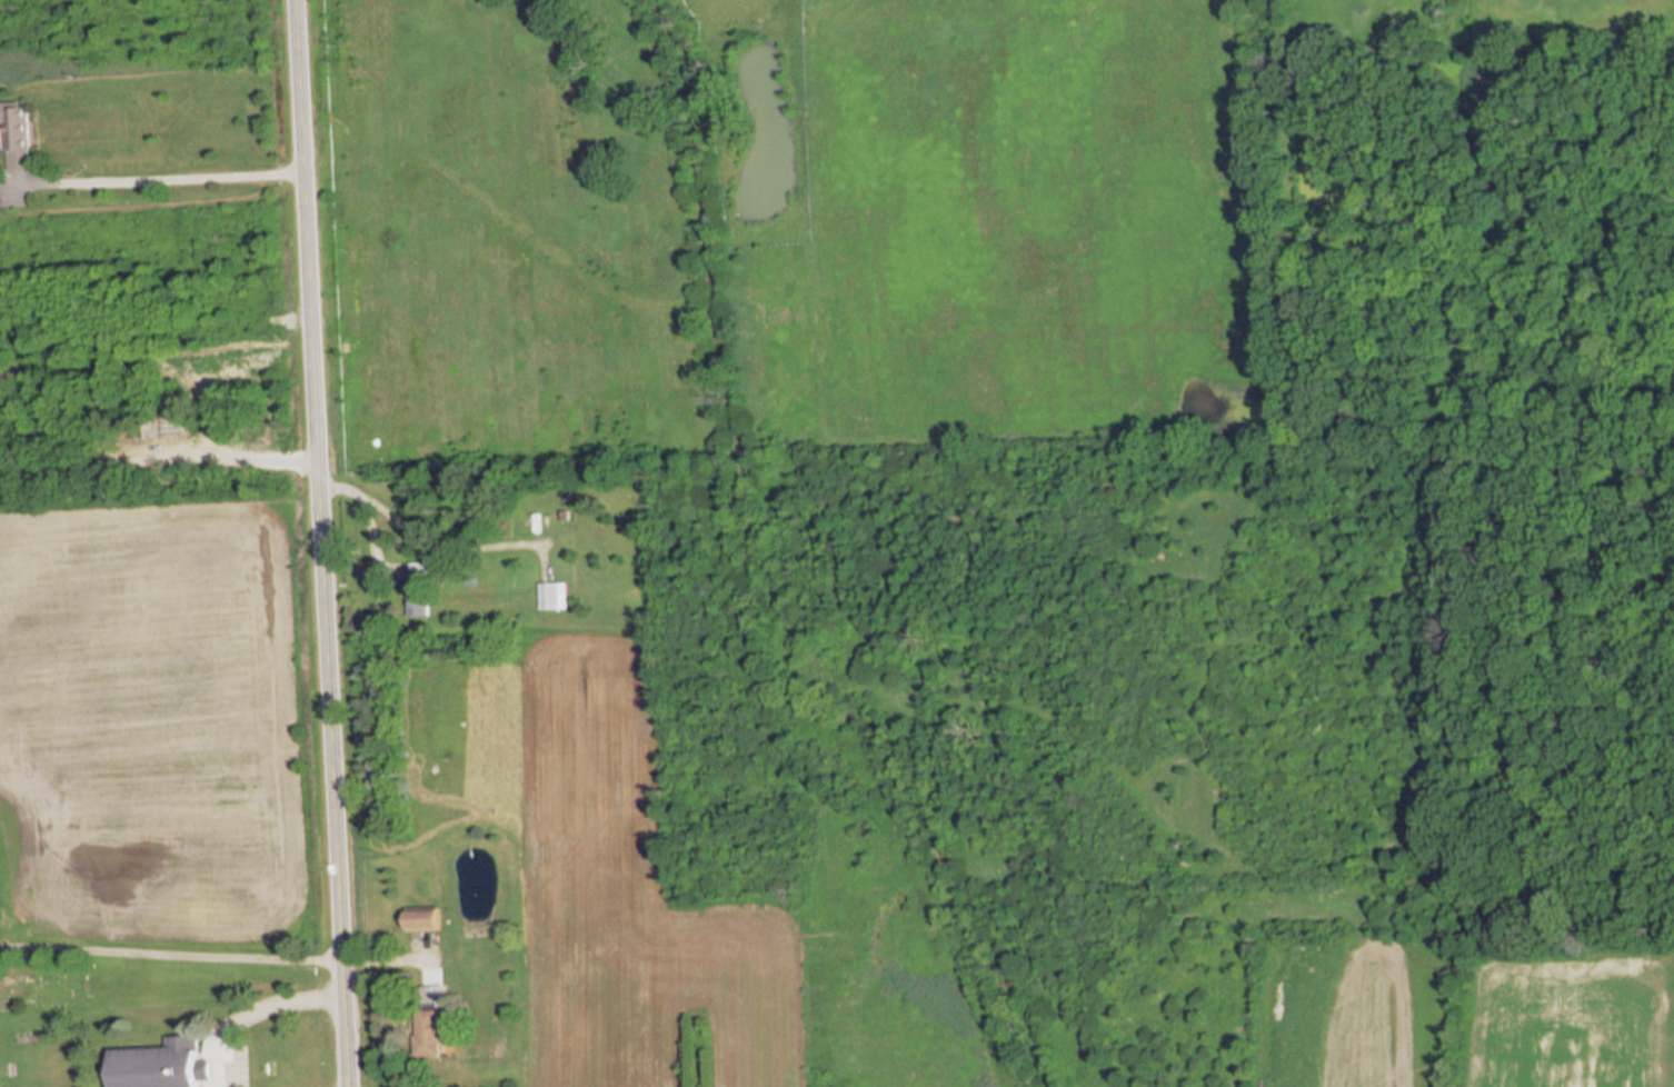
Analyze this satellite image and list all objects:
building: (17, 136)
road: (167, 173)
road: (156, 451)
road: (362, 506)
road: (317, 542)
building: (417, 589)
building: (552, 596)
building: (422, 921)
road: (247, 1007)
building: (429, 1024)
building: (163, 1065)

